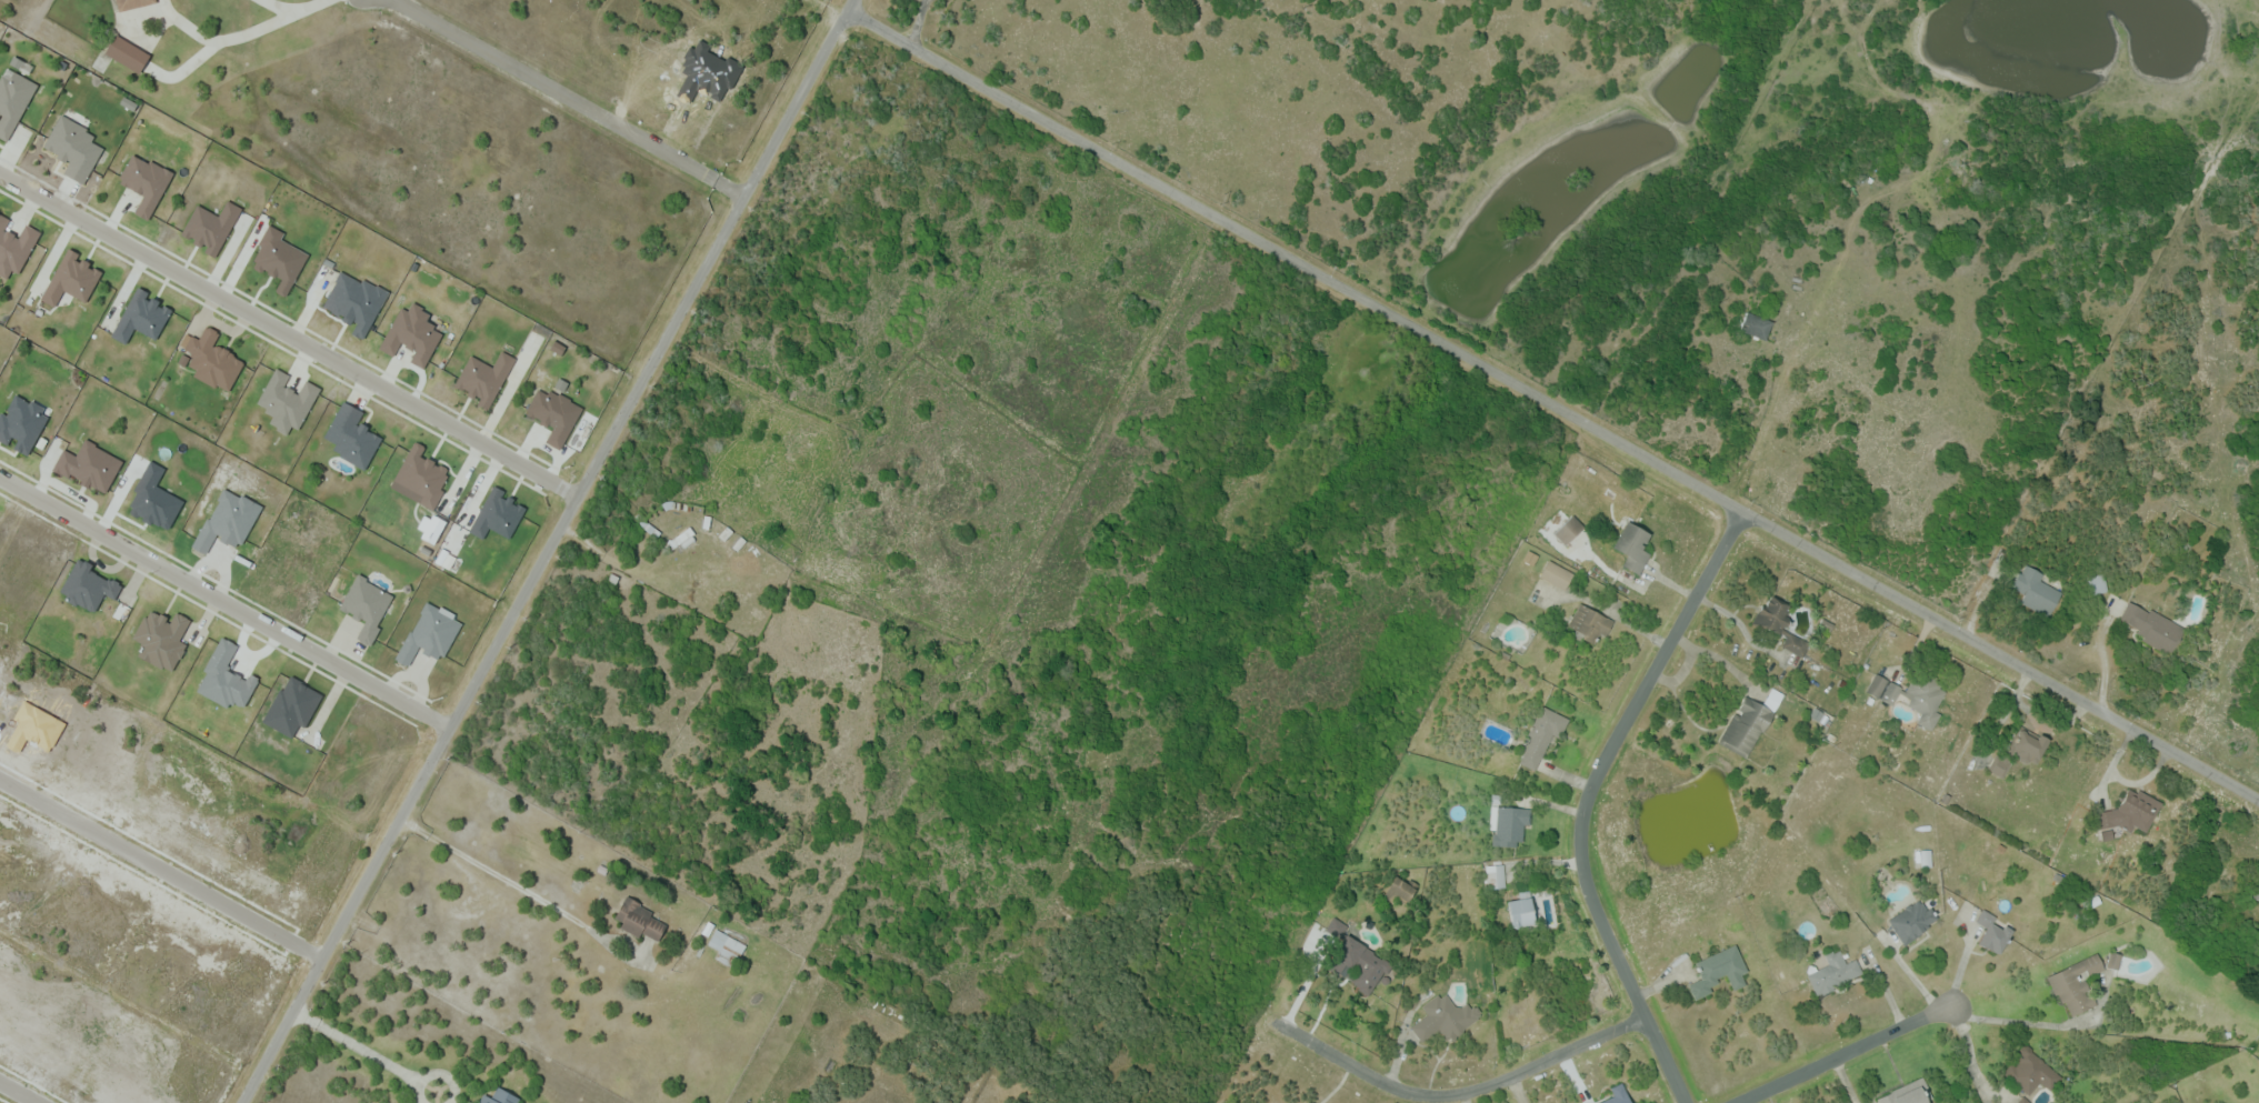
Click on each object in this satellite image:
building: (133, 3)
road: (849, 7)
building: (128, 53)
road: (568, 97)
building: (12, 101)
building: (73, 148)
building: (144, 182)
building: (210, 227)
building: (14, 247)
building: (279, 259)
building: (71, 279)
building: (354, 302)
building: (141, 317)
building: (1756, 325)
road: (289, 333)
building: (411, 334)
building: (211, 359)
building: (483, 378)
building: (287, 401)
road: (1552, 407)
building: (553, 414)
building: (21, 424)
building: (351, 435)
building: (89, 465)
building: (420, 477)
building: (154, 499)
building: (497, 514)
building: (648, 524)
building: (1569, 530)
building: (680, 538)
building: (1632, 545)
road: (543, 558)
building: (1530, 558)
building: (1557, 574)
building: (2097, 583)
building: (88, 585)
building: (2036, 590)
road: (224, 602)
building: (367, 605)
building: (1780, 624)
building: (1826, 624)
building: (1587, 625)
building: (2152, 628)
building: (161, 639)
building: (1913, 693)
building: (1749, 724)
building: (1542, 735)
building: (2019, 752)
road: (1586, 800)
building: (2131, 810)
building: (1510, 825)
road: (161, 868)
building: (1495, 875)
road: (519, 885)
building: (1400, 889)
building: (2257, 893)
building: (1522, 910)
building: (639, 920)
building: (1912, 921)
building: (1337, 927)
building: (1992, 932)
building: (727, 947)
building: (2113, 960)
building: (1359, 964)
building: (1720, 970)
building: (1835, 972)
building: (2076, 983)
building: (1447, 1017)
road: (357, 1044)
road: (1851, 1053)
building: (2030, 1071)
road: (449, 1075)
road: (20, 1091)
road: (422, 1093)
building: (1908, 1093)
road: (1460, 1094)
building: (1619, 1094)
building: (500, 1096)
building: (2023, 1101)

